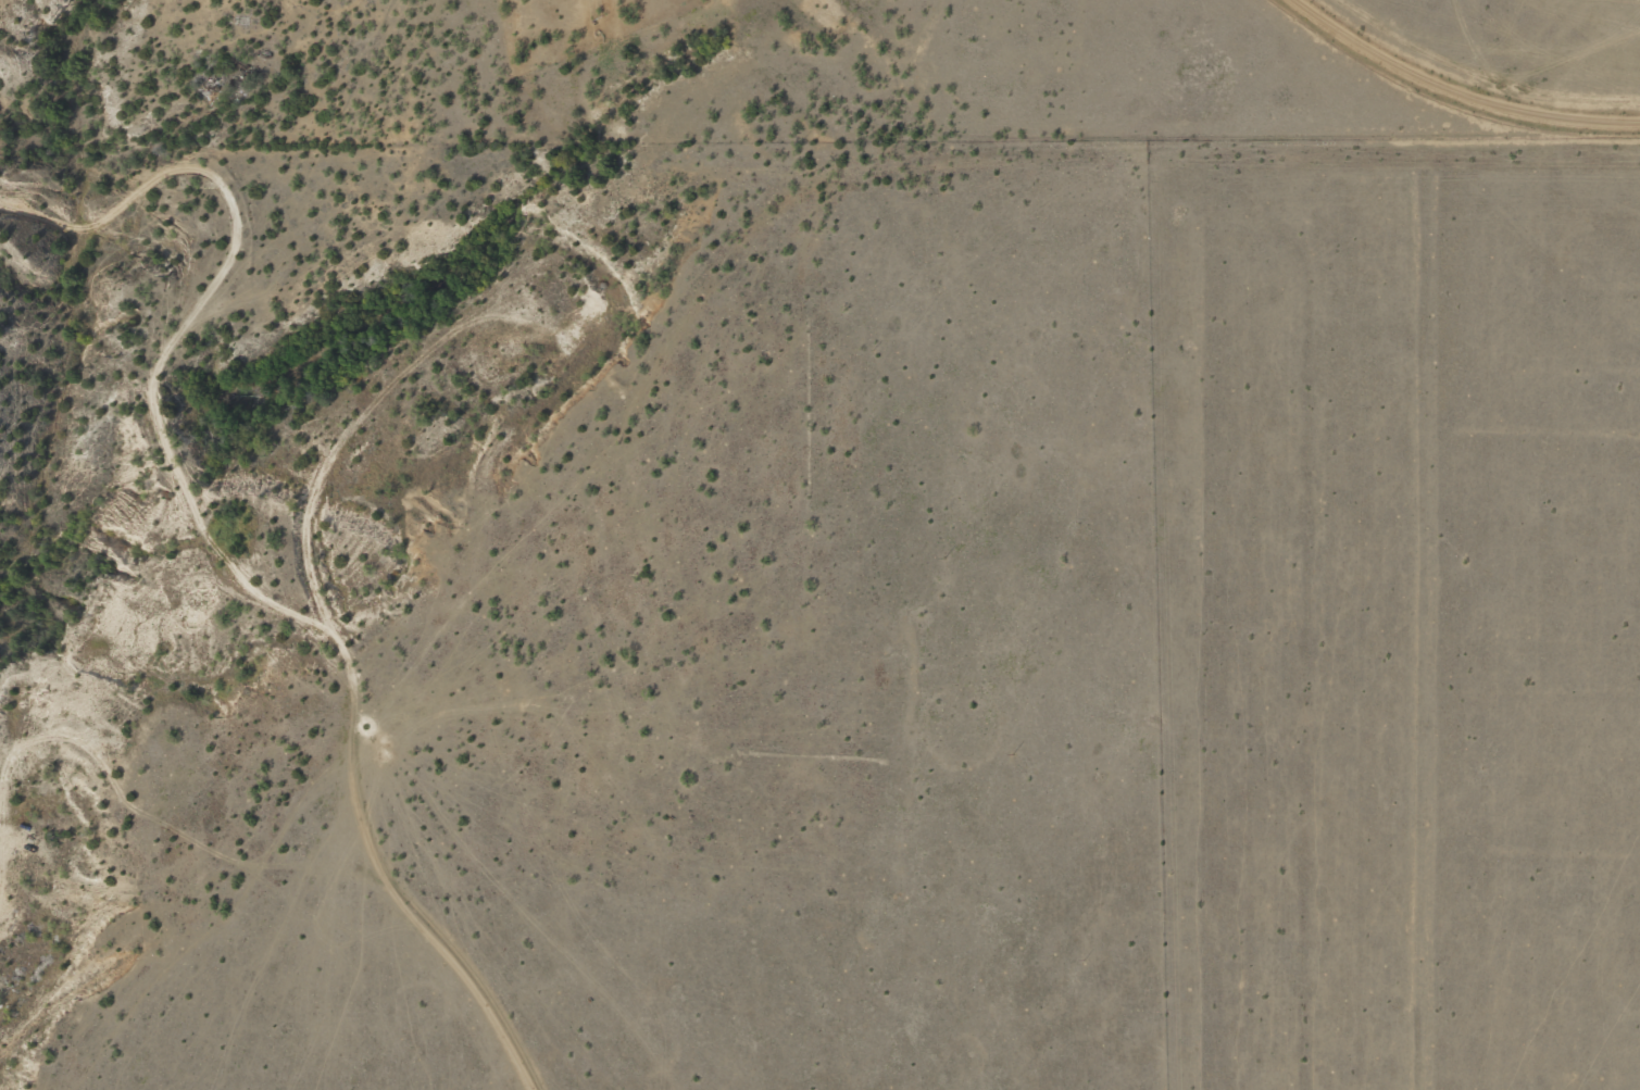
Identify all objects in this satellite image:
road: (1456, 90)
road: (561, 509)
road: (388, 910)

